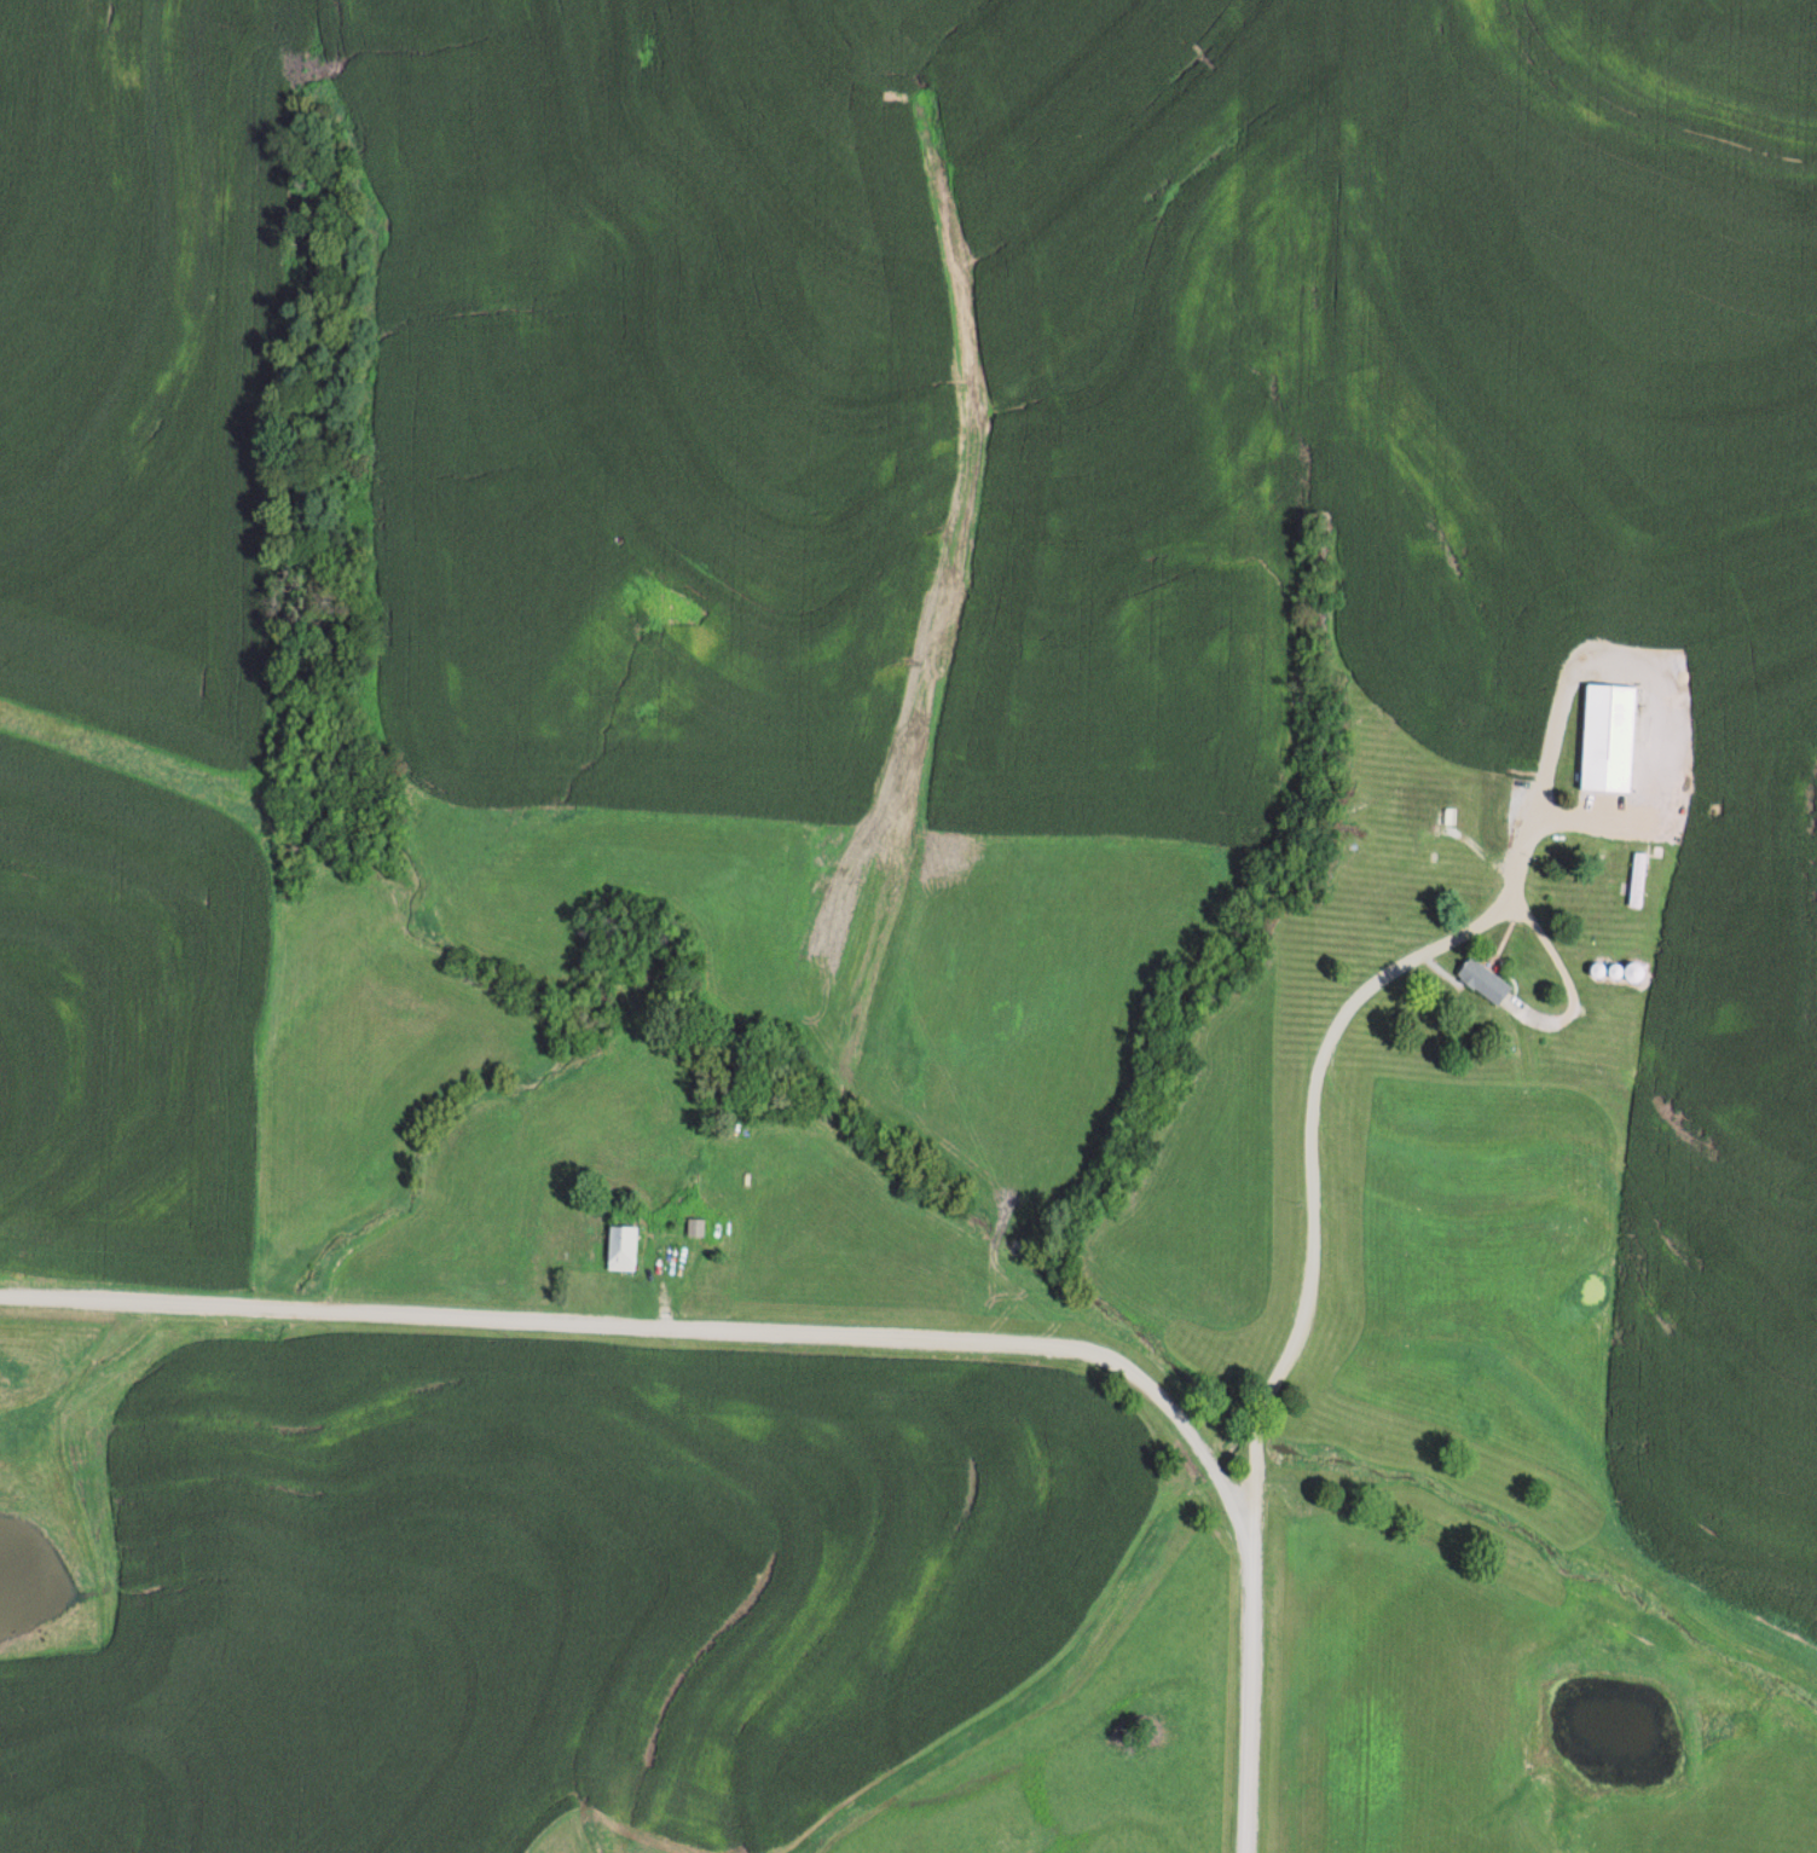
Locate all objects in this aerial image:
building: (1613, 737)
building: (1435, 805)
building: (1639, 880)
building: (1489, 981)
road: (1310, 1128)
building: (699, 1228)
building: (627, 1249)
road: (828, 1333)
road: (1295, 1442)

